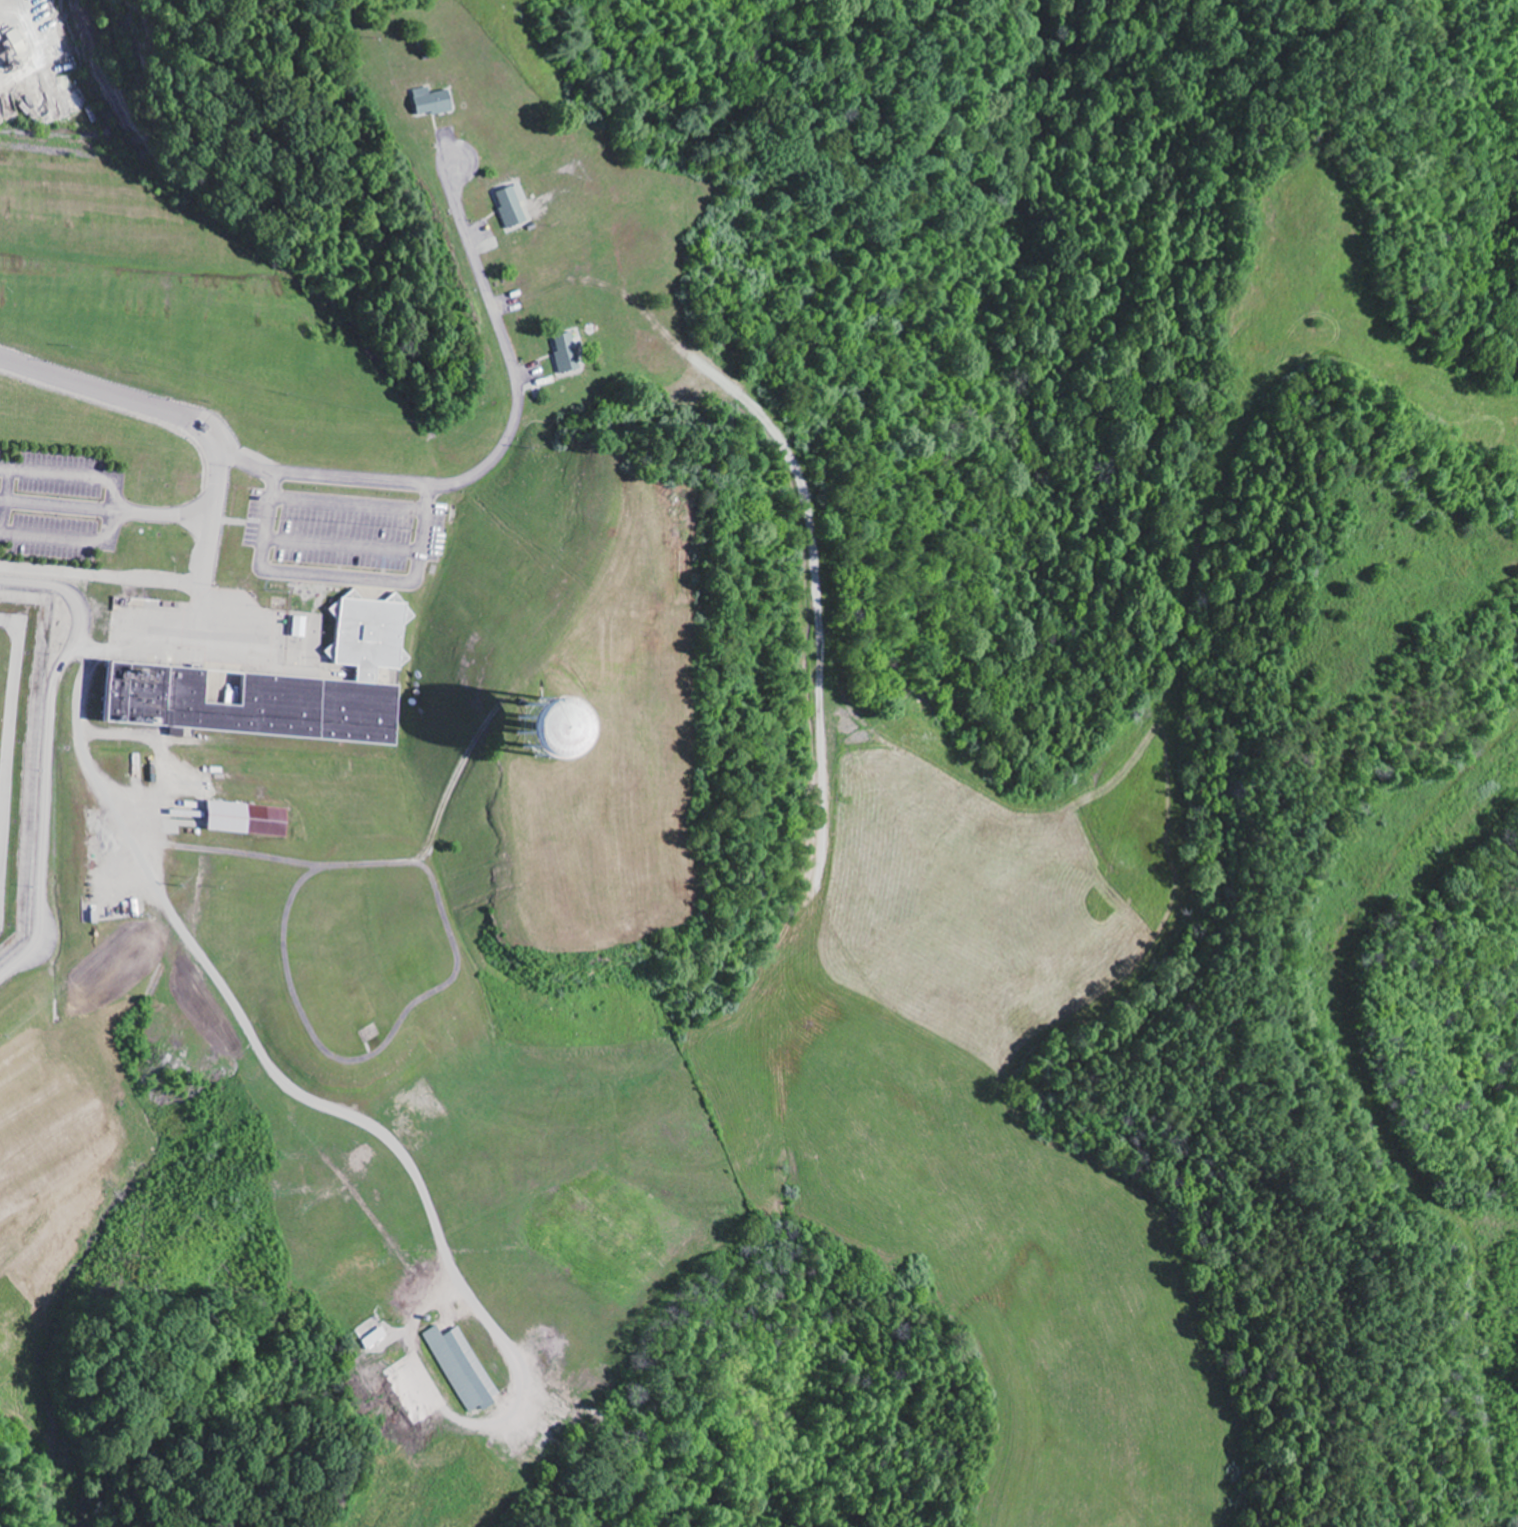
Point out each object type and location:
building: (438, 102)
road: (476, 166)
building: (519, 207)
building: (575, 354)
road: (378, 481)
parking lot: (56, 505)
building: (288, 689)
water tower: (550, 731)
building: (246, 820)
building: (464, 1368)

